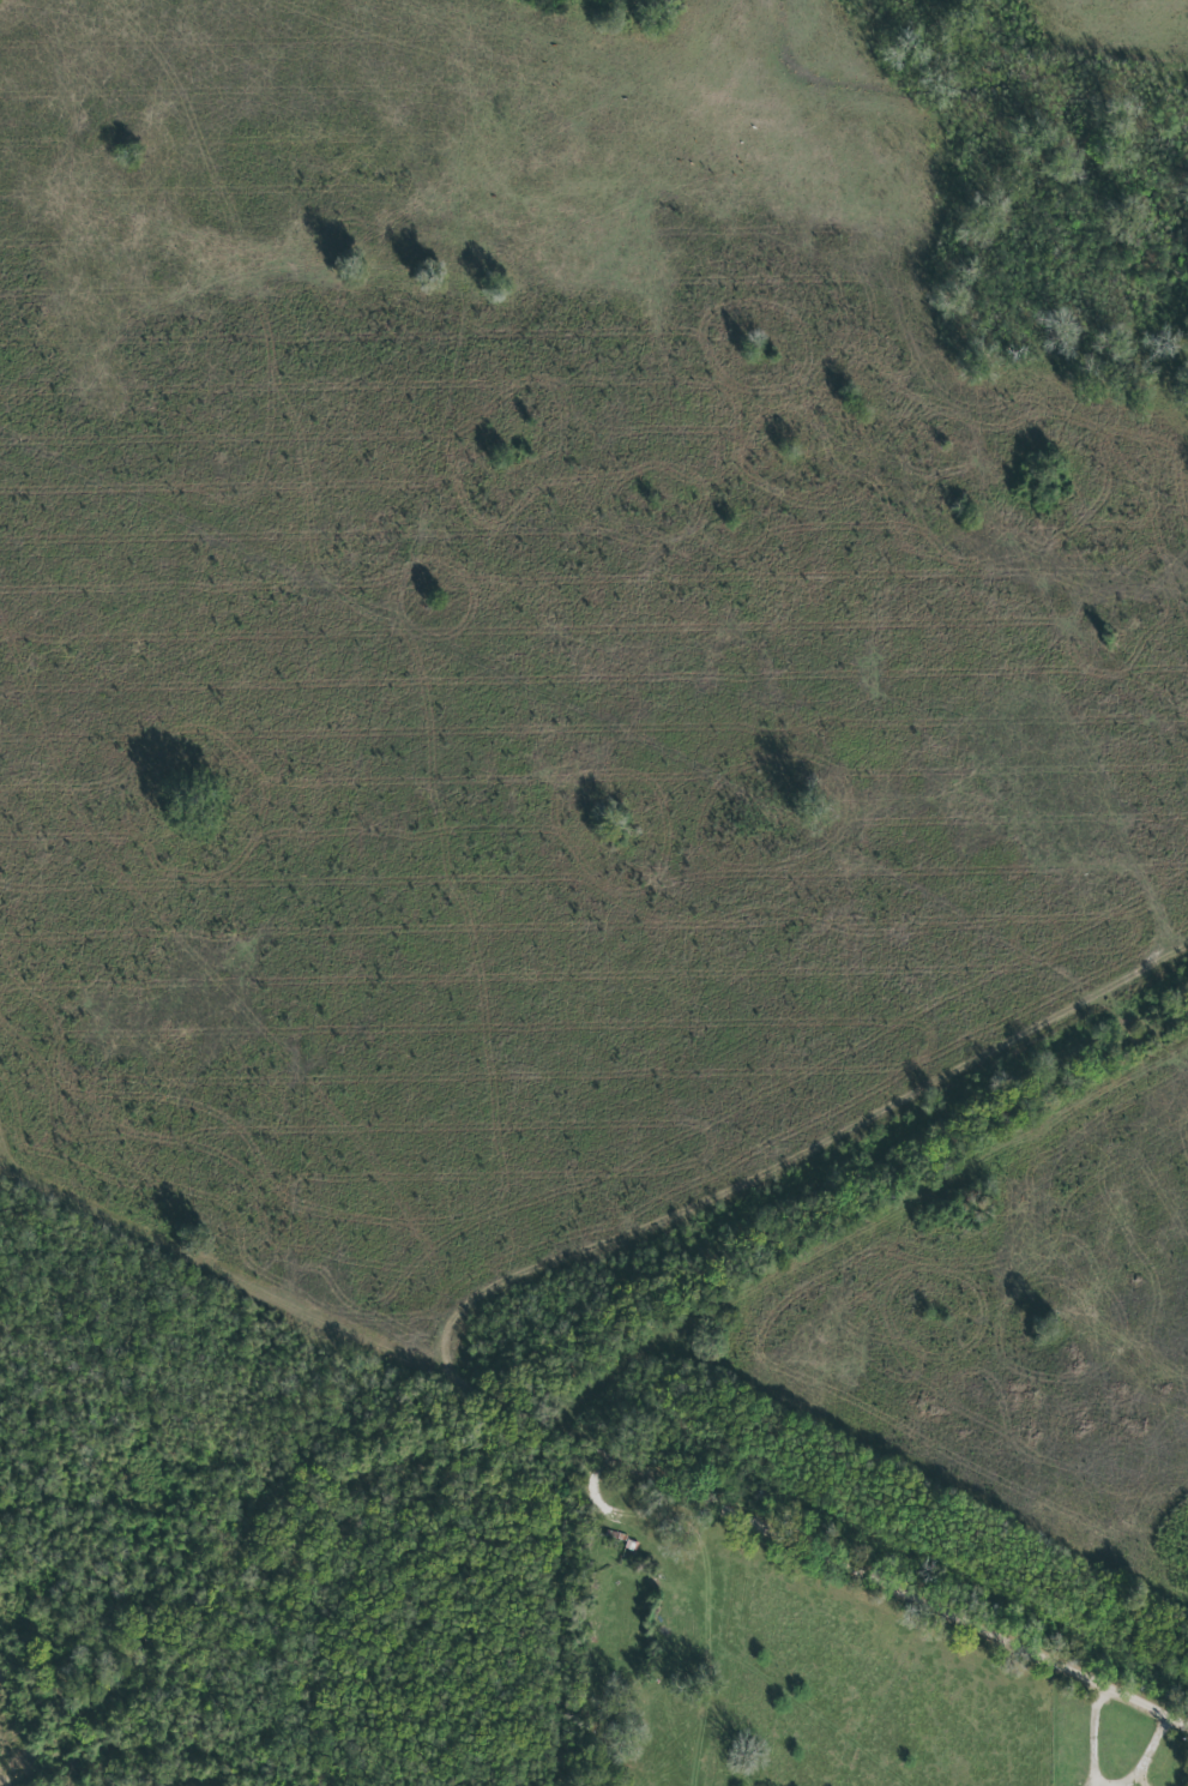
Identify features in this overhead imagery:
road: (1096, 638)
road: (797, 1154)
road: (595, 1445)
road: (1094, 1733)
road: (1148, 1752)

